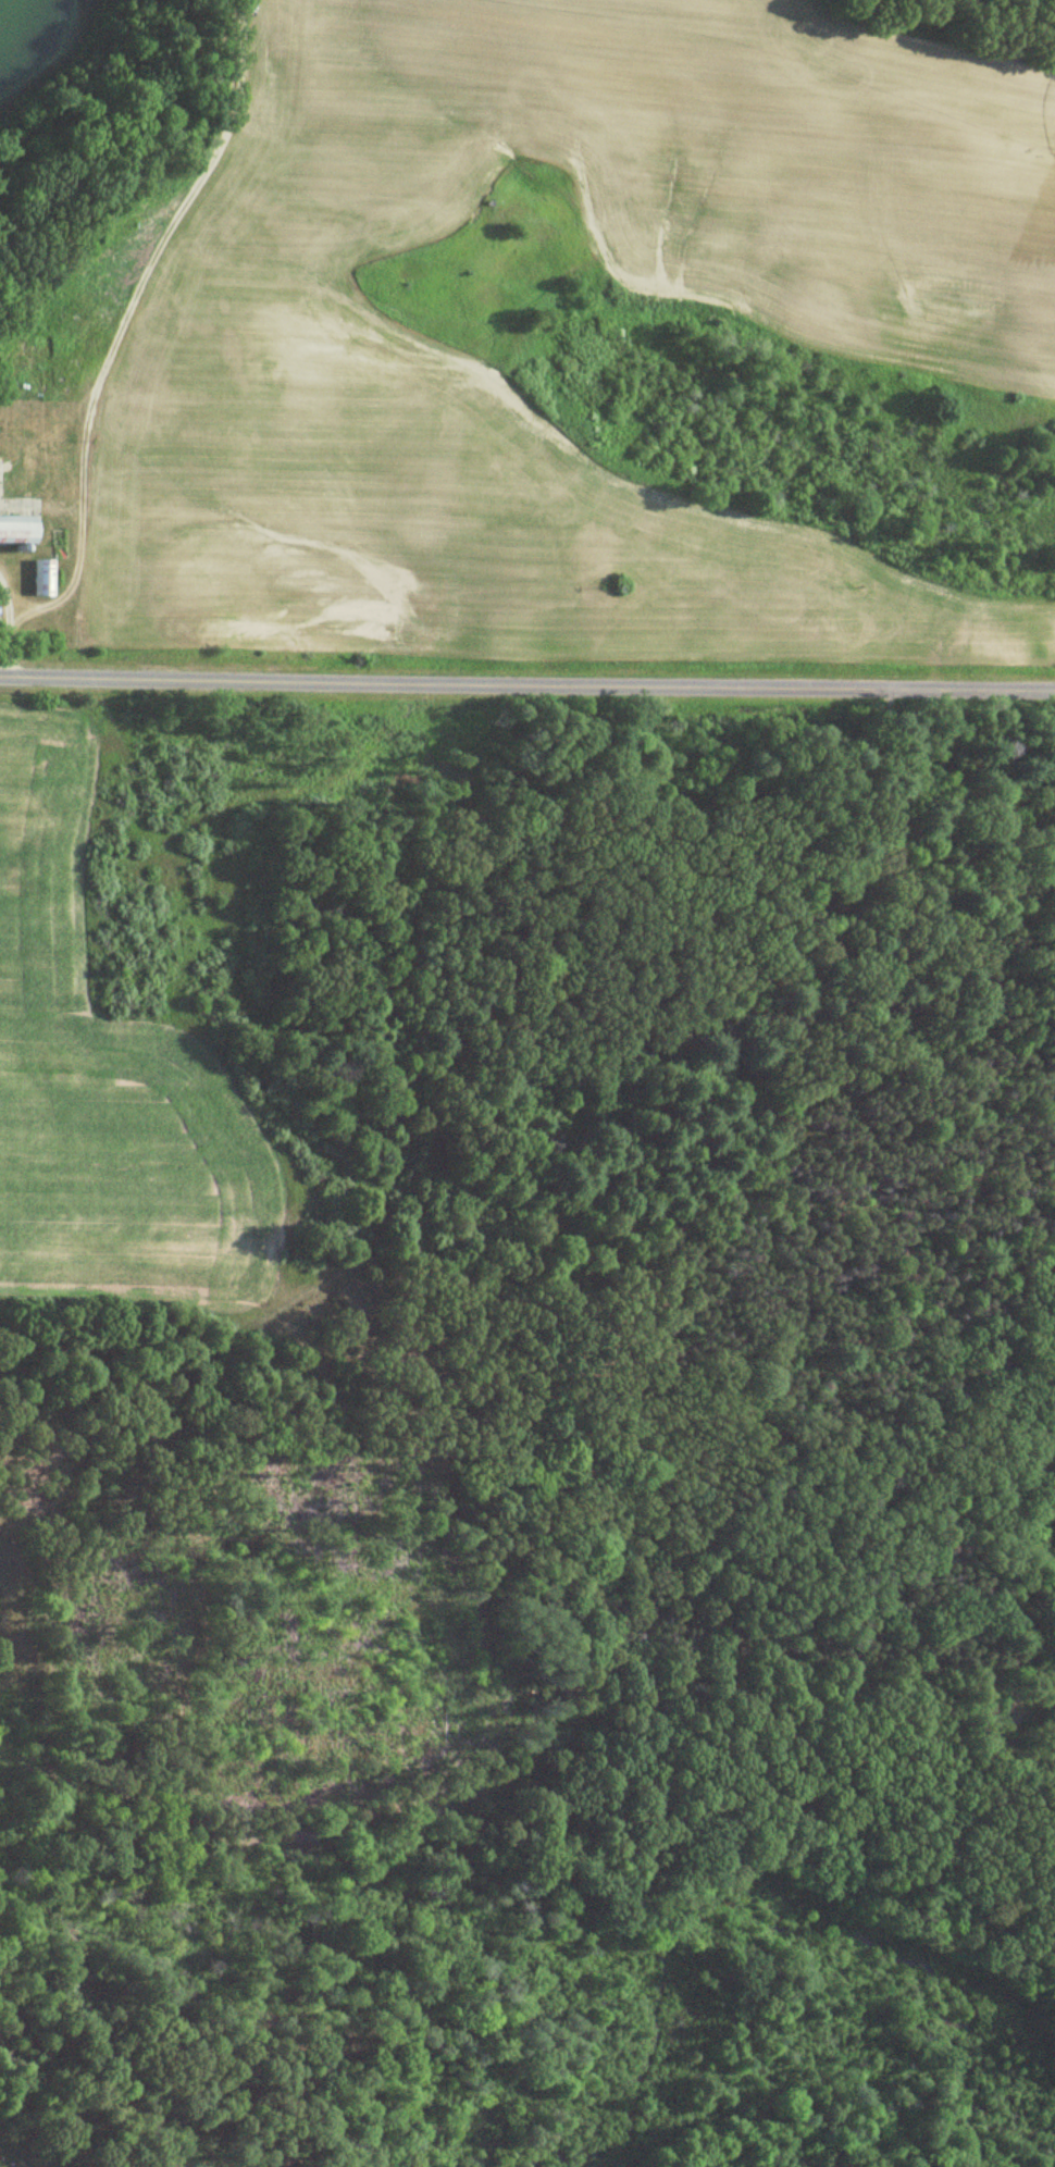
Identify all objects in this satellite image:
road: (120, 332)
crop: (274, 340)
building: (13, 532)
building: (38, 580)
road: (2, 637)
road: (526, 684)

